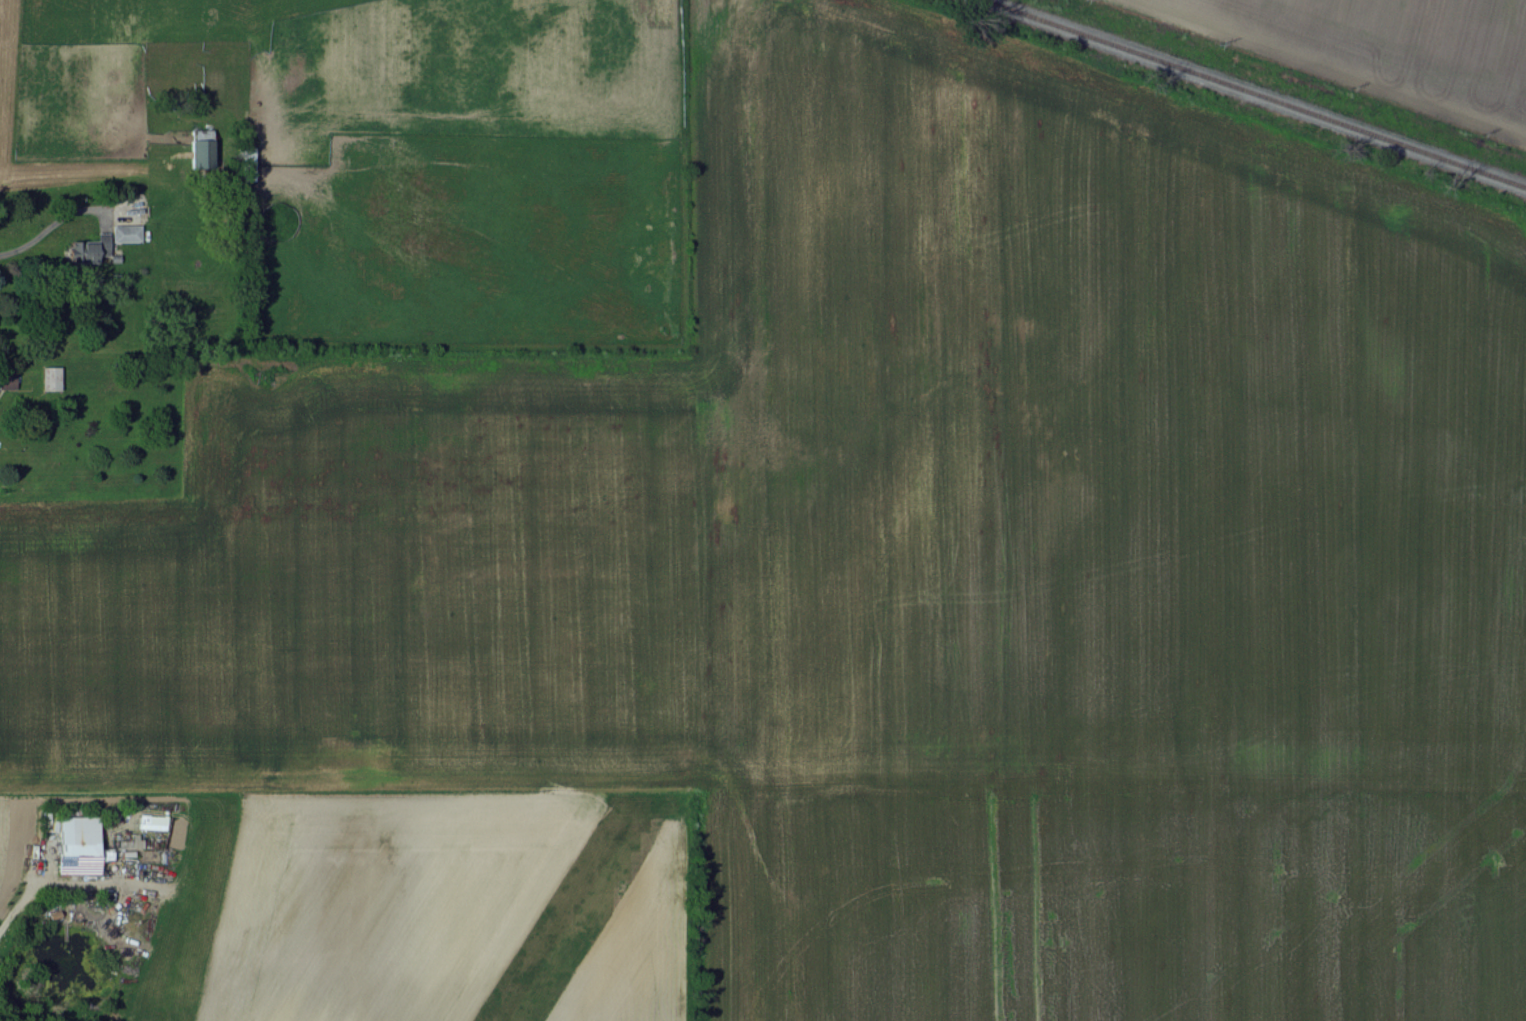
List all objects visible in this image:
railway: (1249, 96)
building: (197, 152)
road: (48, 225)
building: (91, 248)
building: (7, 380)
building: (153, 821)
building: (78, 844)
road: (16, 907)
airport: (577, 907)
airport runway: (568, 923)

